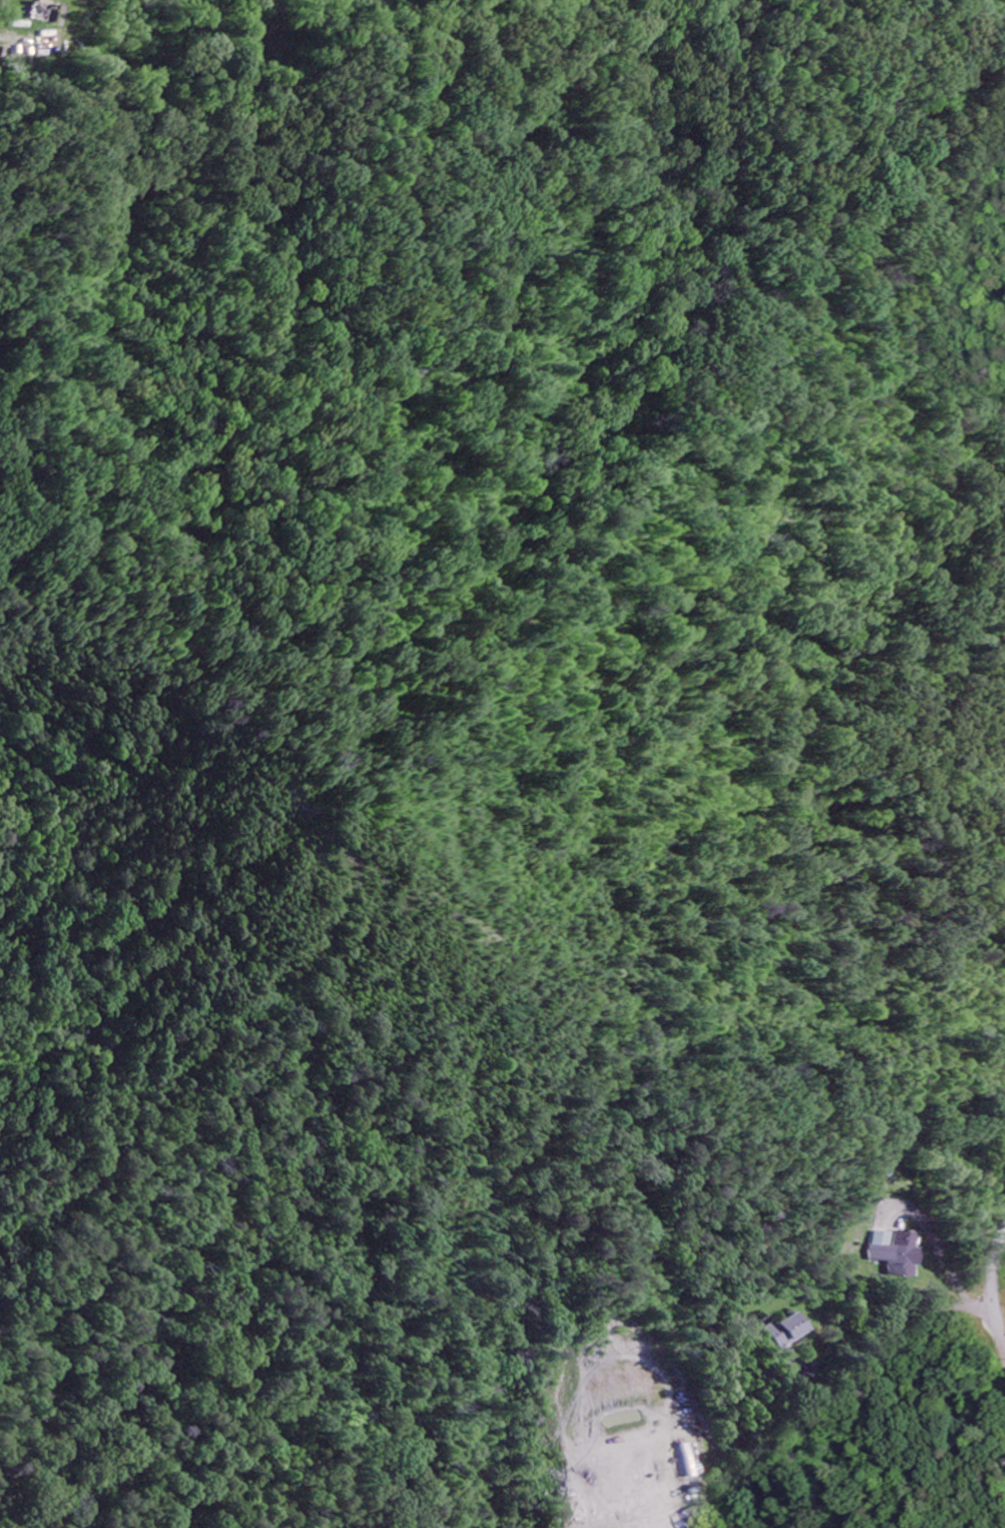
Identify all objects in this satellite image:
building: (899, 1254)
road: (995, 1283)
road: (887, 1304)
building: (787, 1331)
road: (957, 1511)
building: (688, 1518)

